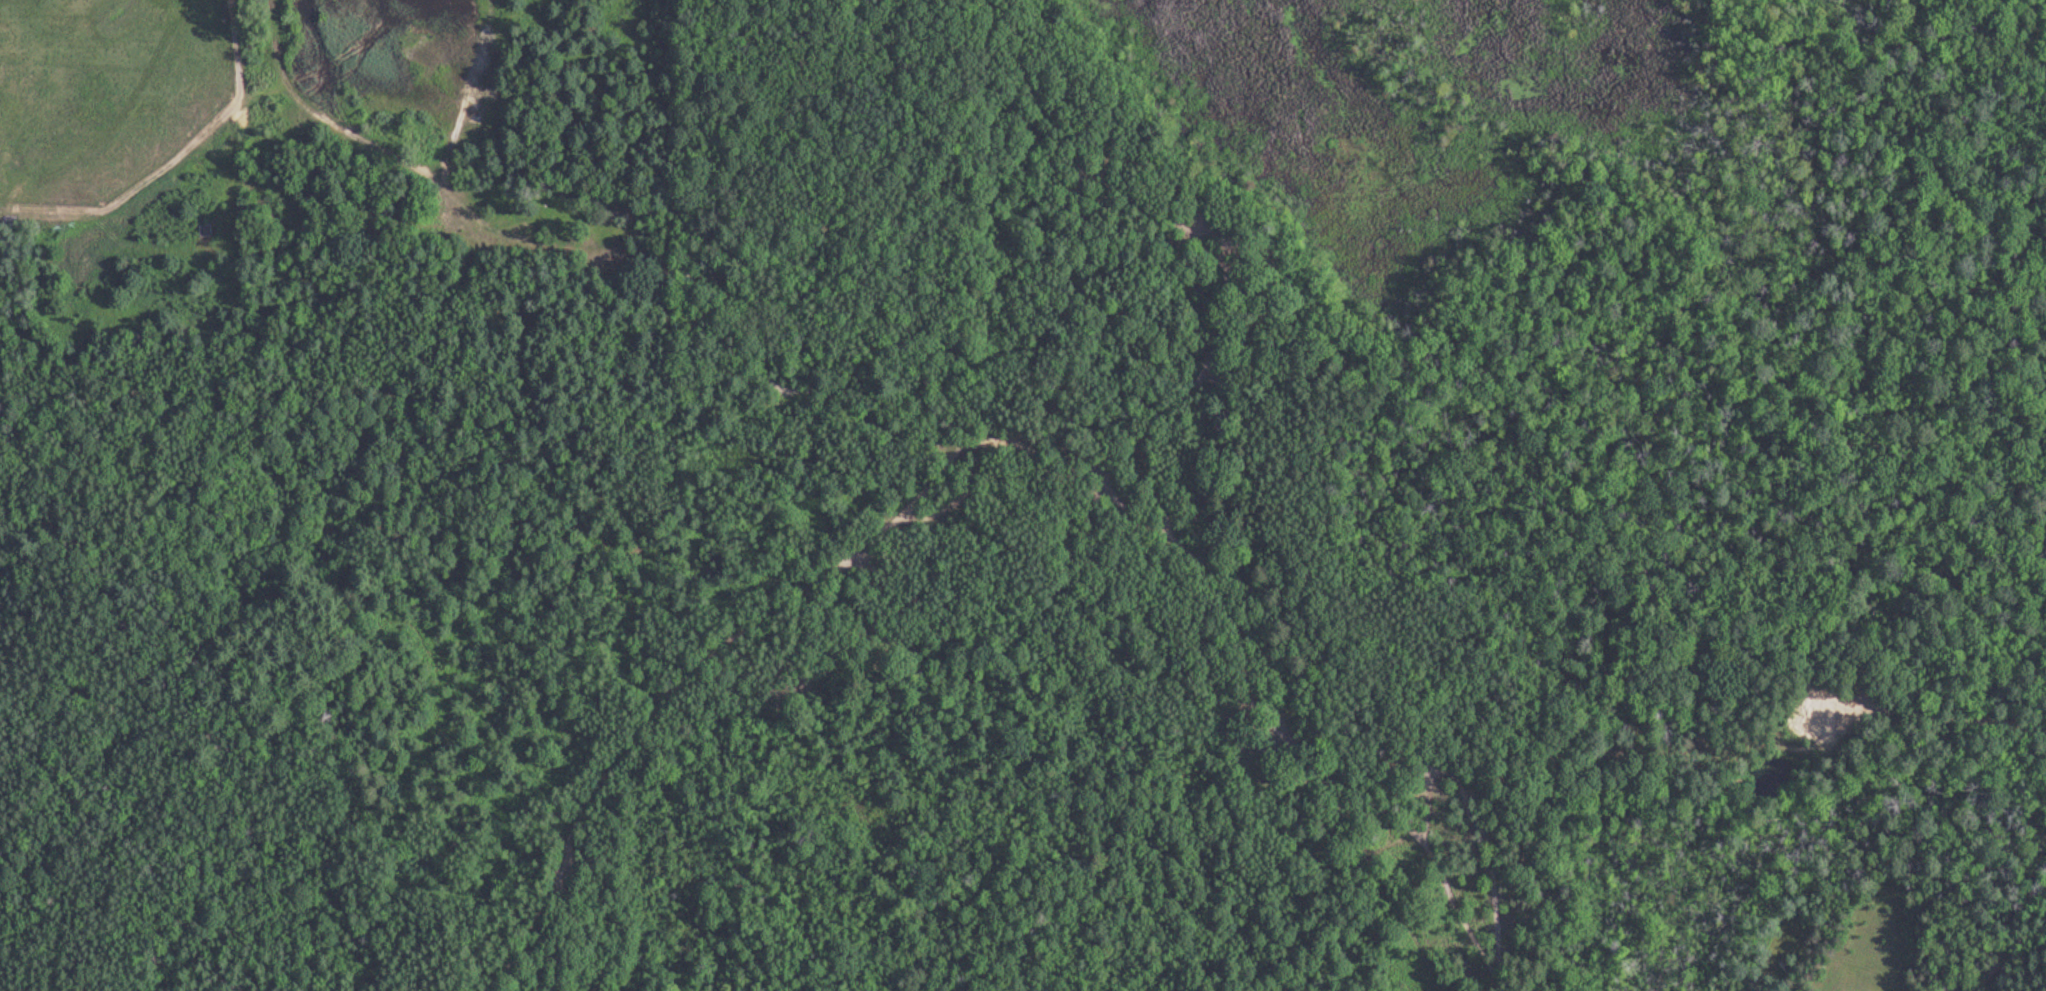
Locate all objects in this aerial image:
road: (979, 460)
road: (679, 682)
road: (1692, 770)

